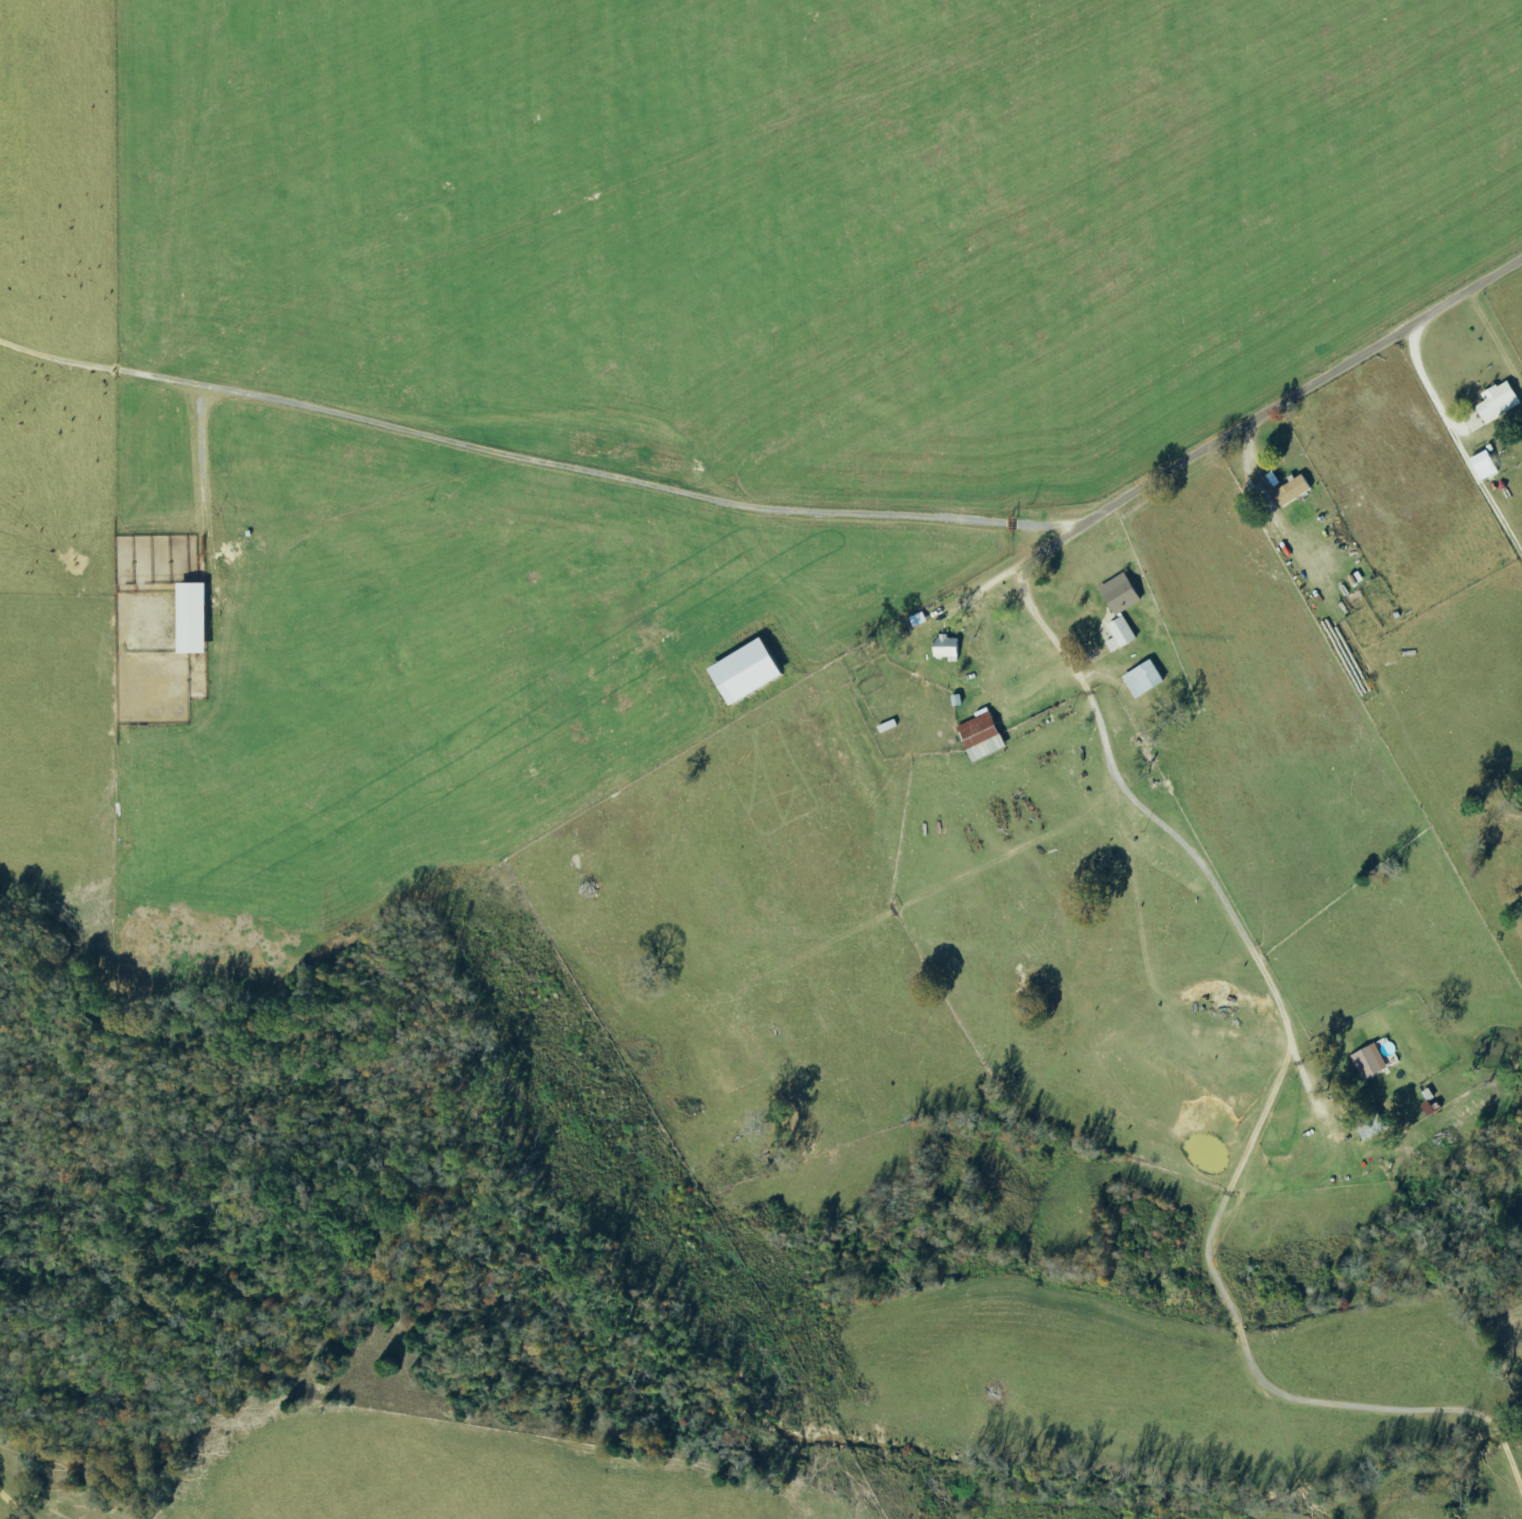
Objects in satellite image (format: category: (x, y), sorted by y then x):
building: (1496, 402)
road: (797, 459)
building: (1479, 462)
building: (1121, 588)
building: (1130, 602)
building: (197, 618)
building: (1123, 635)
building: (949, 648)
building: (753, 671)
building: (1147, 679)
building: (986, 737)
building: (1367, 1061)

